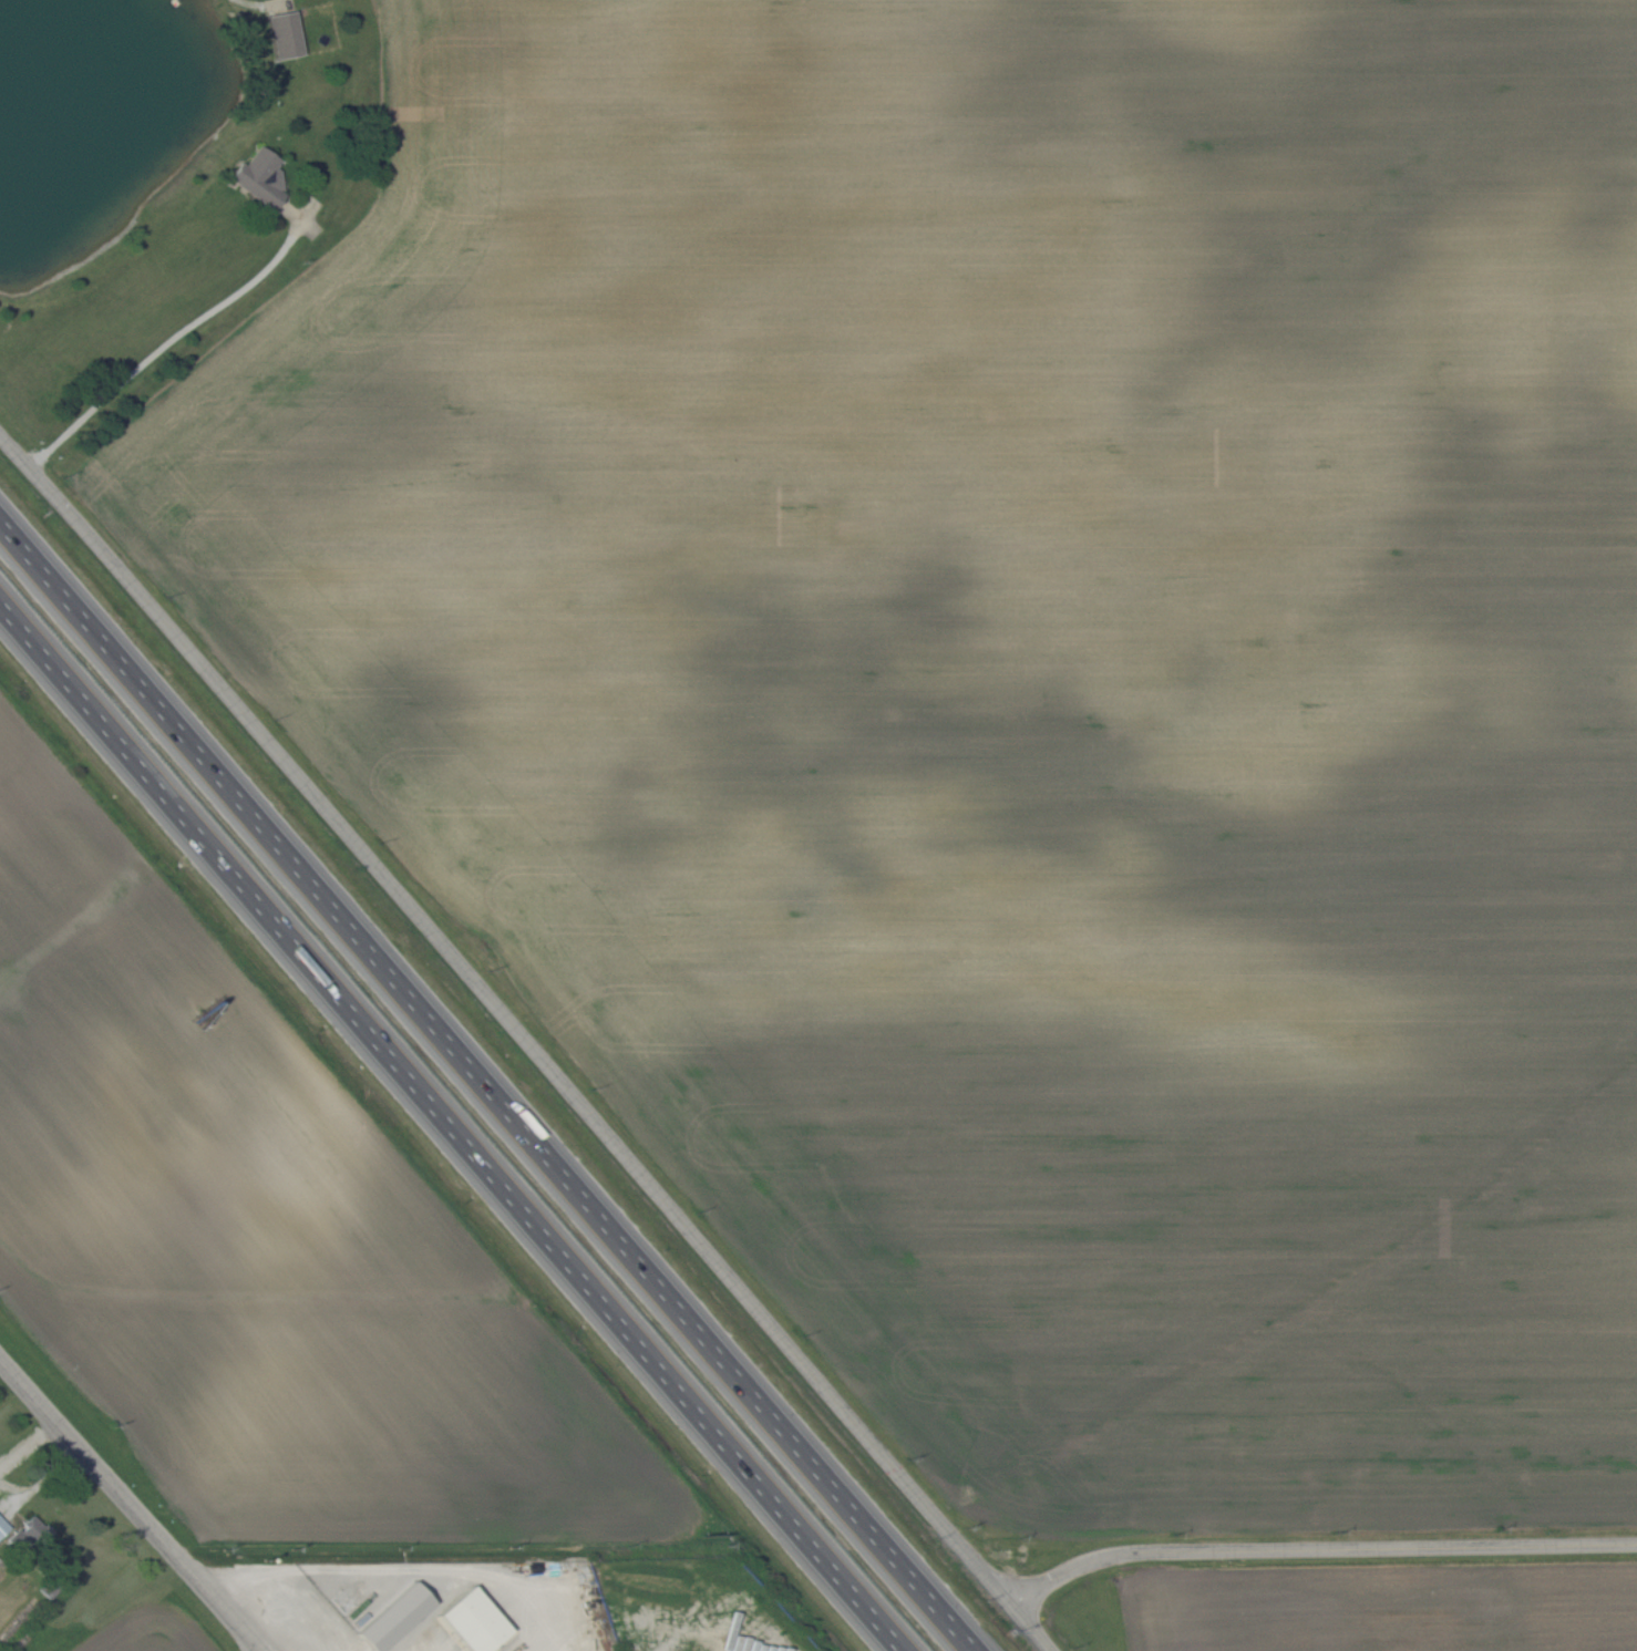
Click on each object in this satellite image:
building: (284, 33)
building: (259, 176)
road: (166, 344)
road: (526, 1042)
road: (488, 1086)
road: (447, 1128)
road: (130, 1506)
building: (2, 1527)
building: (34, 1530)
road: (1317, 1547)
building: (392, 1618)
building: (472, 1621)

